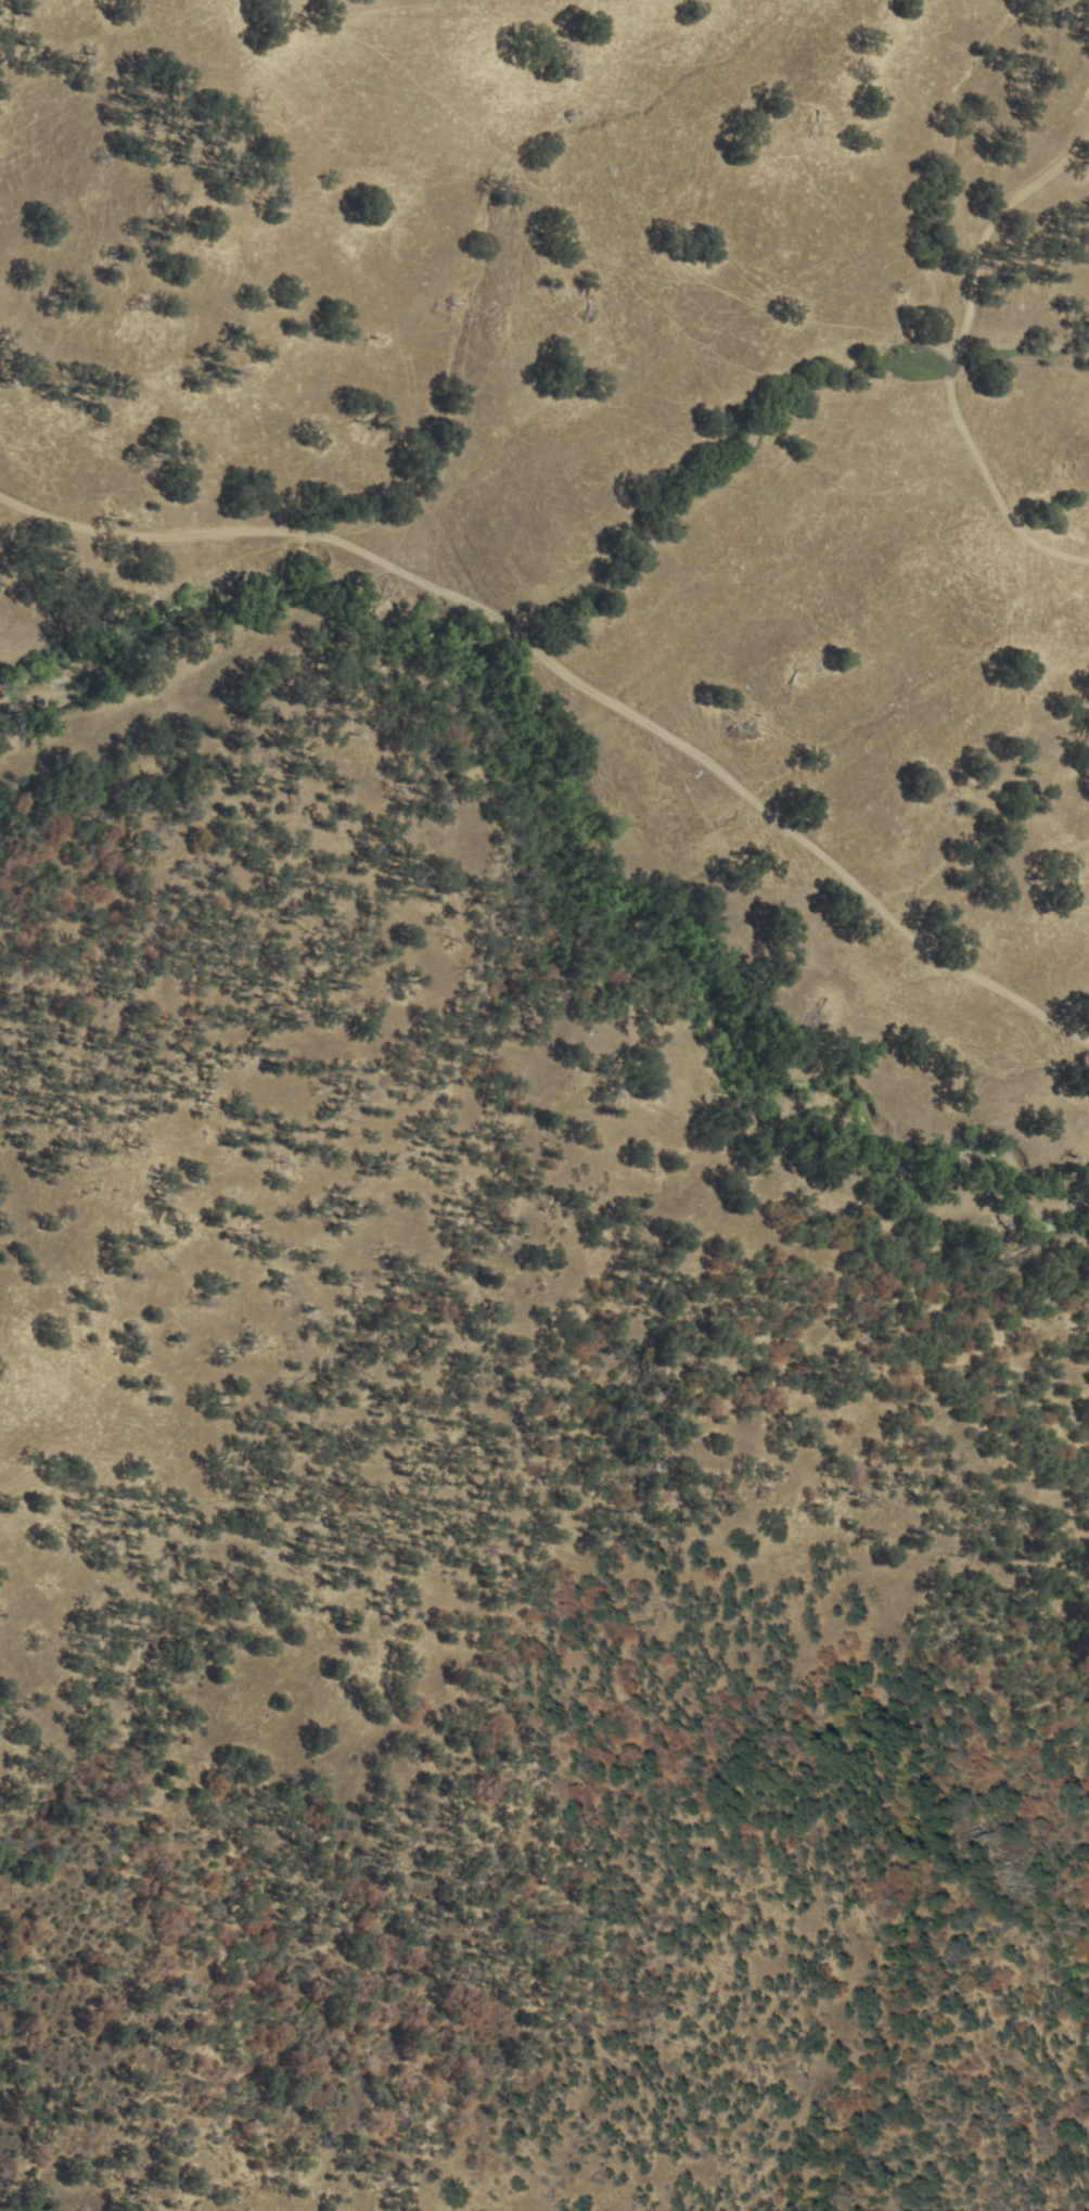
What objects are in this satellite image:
road: (577, 682)

